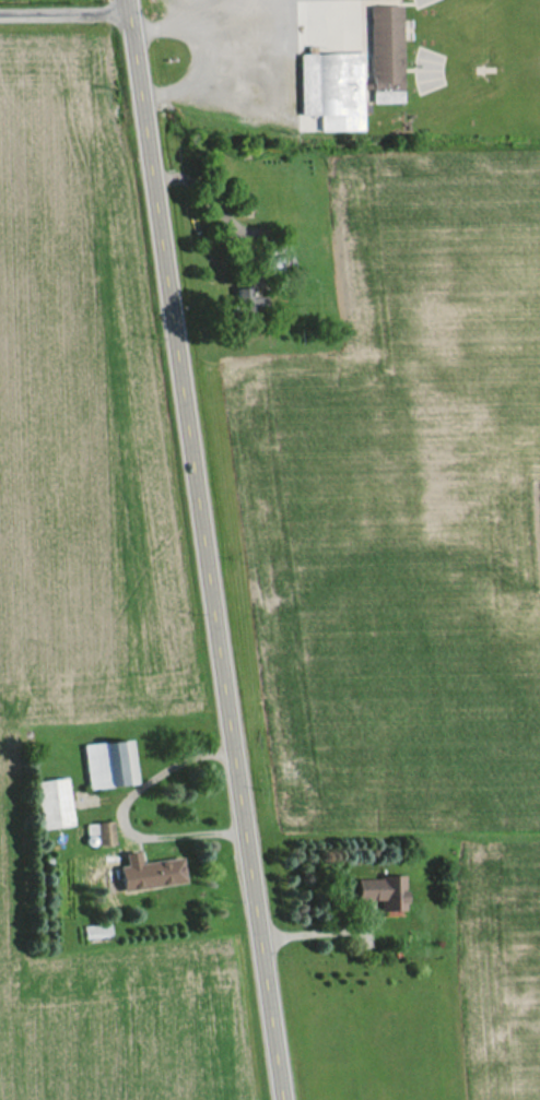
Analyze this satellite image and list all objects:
road: (64, 11)
building: (378, 52)
road: (207, 549)
building: (109, 764)
building: (52, 803)
road: (119, 814)
building: (149, 872)
building: (385, 894)

